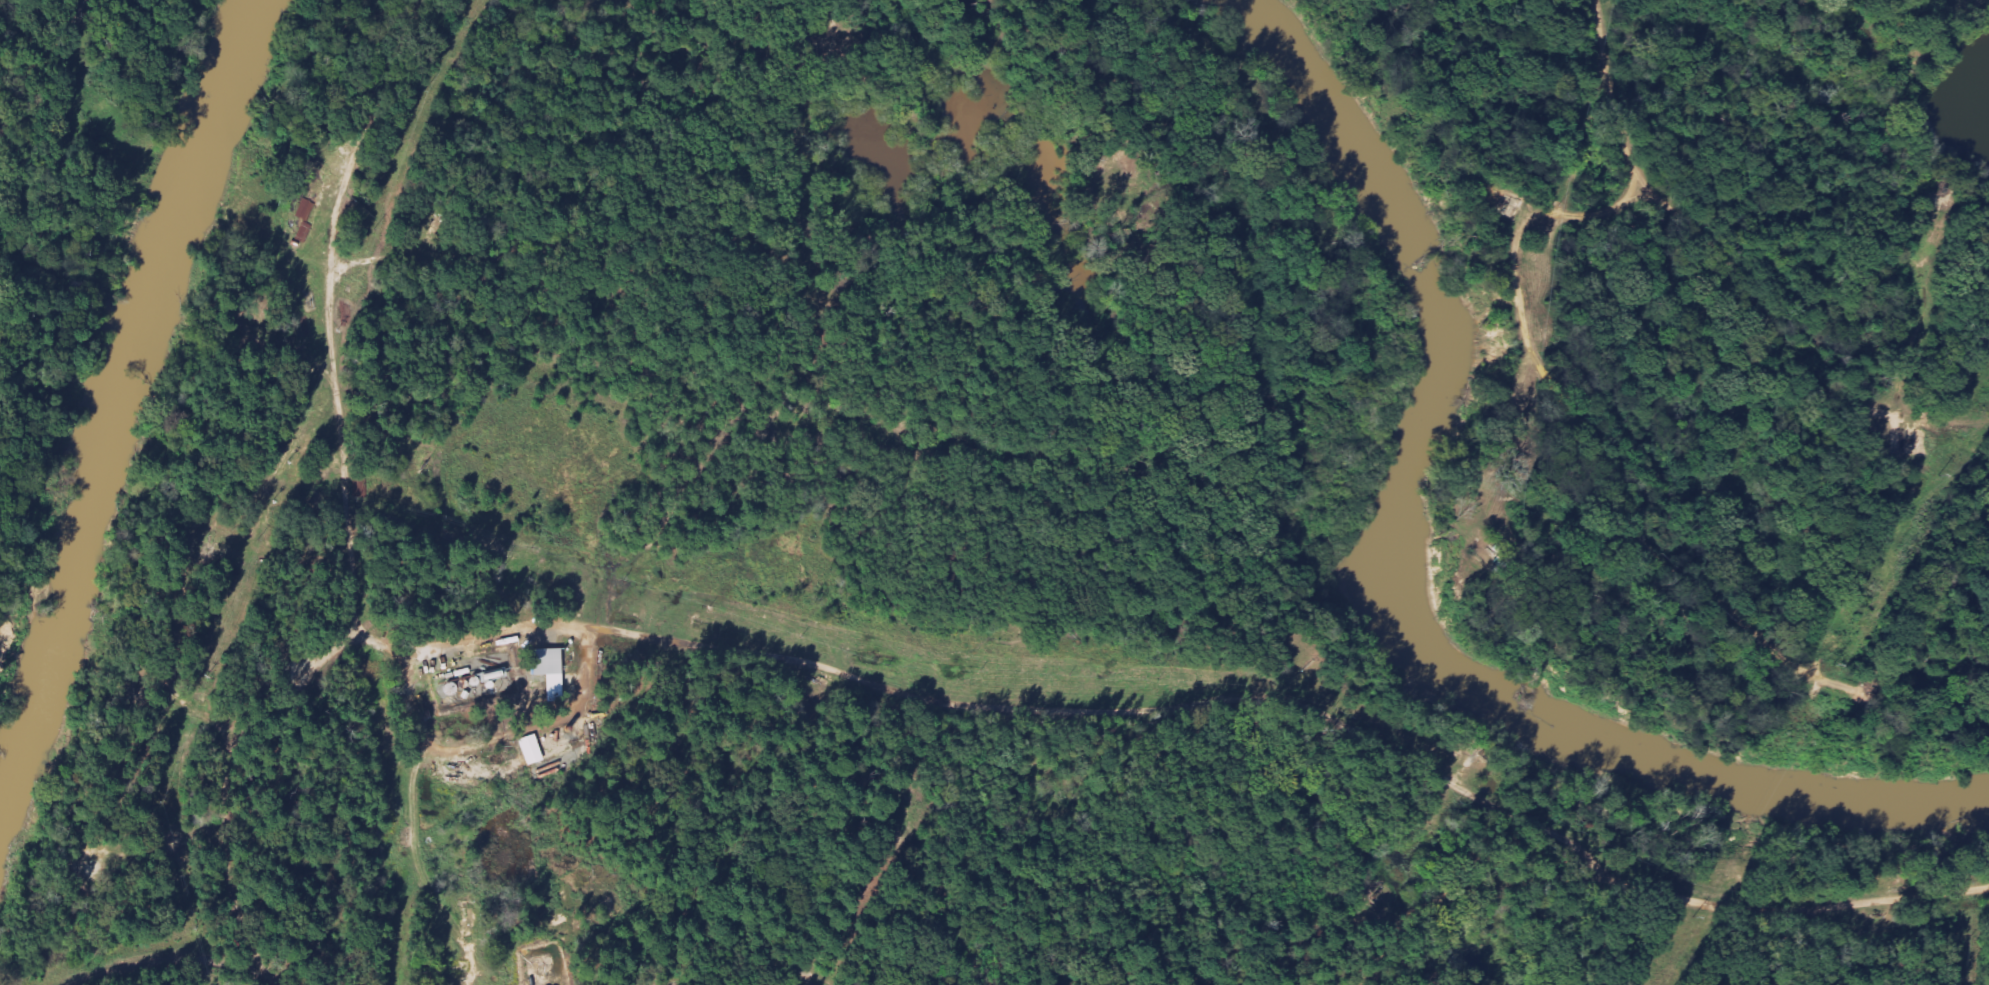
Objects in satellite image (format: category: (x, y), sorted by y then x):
building: (306, 211)
river: (113, 407)
river: (1383, 598)
building: (548, 672)
building: (530, 751)
road: (1657, 892)

